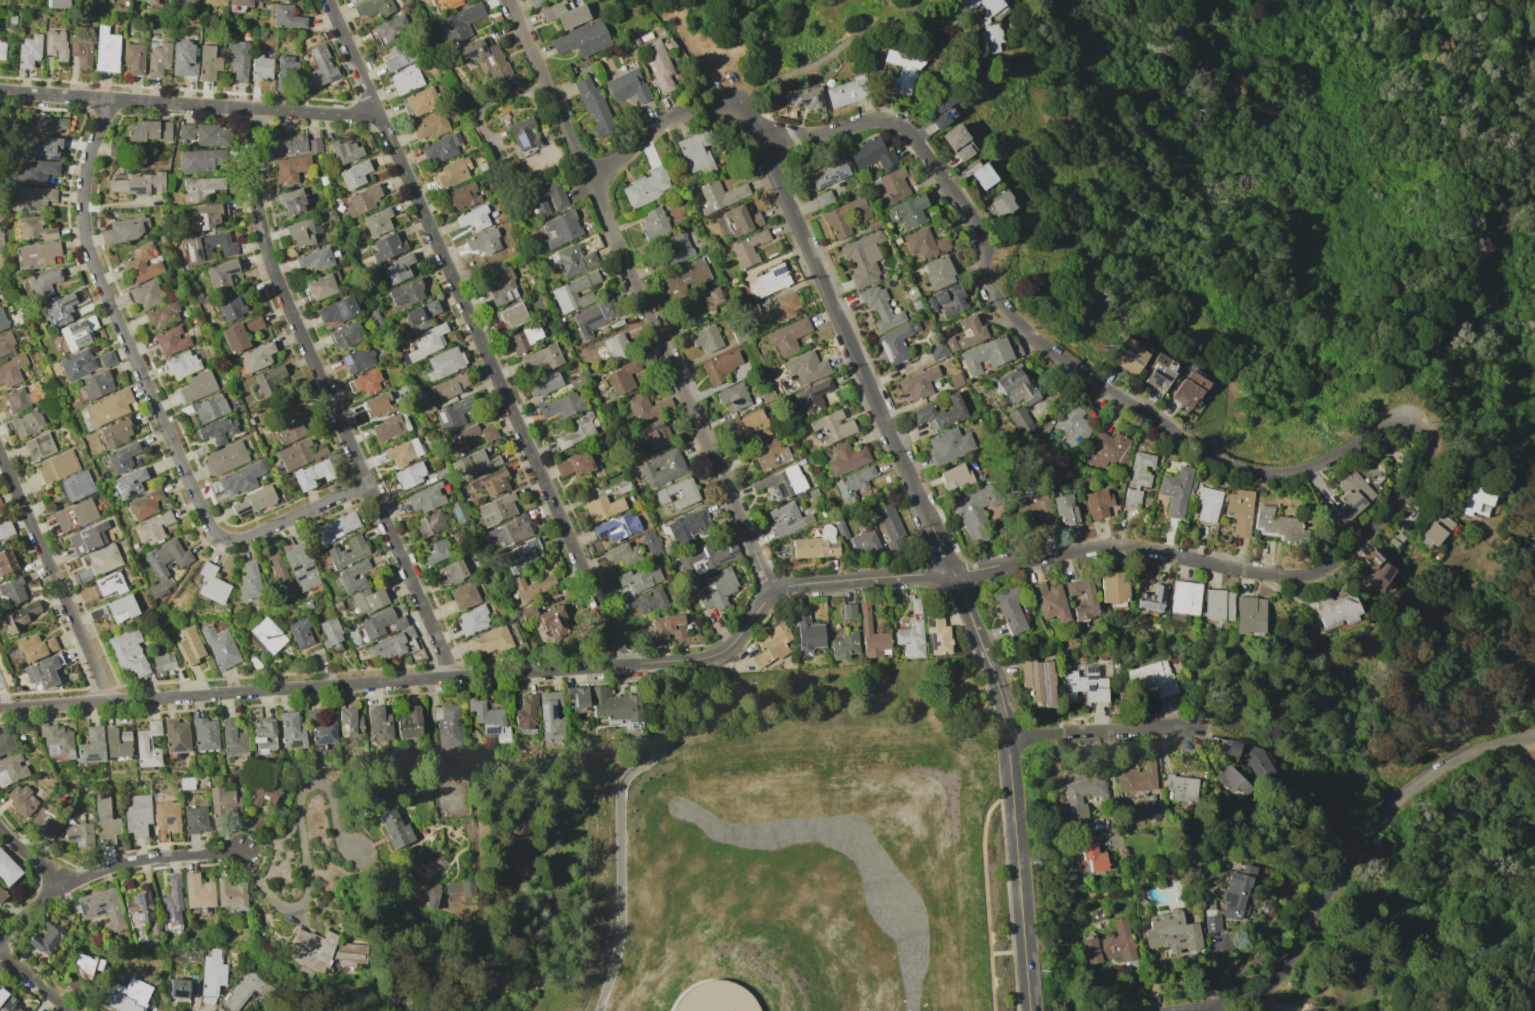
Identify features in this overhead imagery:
building: (150, 2)
building: (229, 2)
building: (441, 2)
building: (183, 3)
building: (59, 4)
building: (982, 7)
building: (373, 8)
building: (566, 14)
building: (287, 17)
building: (459, 23)
building: (392, 28)
building: (990, 38)
building: (583, 39)
building: (56, 45)
building: (2, 48)
building: (28, 50)
building: (106, 50)
road: (834, 50)
building: (81, 51)
road: (697, 52)
road: (1460, 54)
road: (353, 57)
building: (396, 57)
building: (133, 58)
building: (158, 59)
building: (183, 59)
building: (486, 59)
building: (238, 61)
building: (208, 63)
building: (321, 65)
building: (658, 65)
building: (261, 67)
building: (900, 73)
building: (405, 79)
building: (627, 86)
building: (846, 92)
building: (803, 98)
building: (420, 101)
road: (185, 104)
building: (594, 106)
building: (941, 110)
building: (49, 123)
building: (429, 125)
road: (655, 127)
building: (148, 131)
building: (203, 134)
building: (523, 136)
building: (958, 142)
building: (294, 145)
building: (44, 147)
building: (441, 148)
building: (346, 151)
building: (695, 152)
building: (871, 154)
building: (200, 160)
building: (290, 169)
building: (36, 171)
building: (453, 172)
building: (829, 172)
building: (354, 175)
building: (983, 176)
building: (137, 184)
building: (893, 185)
building: (202, 187)
building: (646, 187)
building: (720, 195)
building: (463, 196)
building: (33, 198)
building: (823, 198)
building: (549, 199)
building: (362, 200)
building: (292, 202)
building: (1001, 204)
building: (908, 211)
building: (209, 214)
building: (846, 217)
building: (474, 218)
building: (738, 220)
building: (377, 221)
building: (654, 223)
building: (34, 228)
building: (561, 229)
building: (125, 230)
building: (304, 233)
building: (484, 242)
building: (924, 243)
building: (208, 246)
building: (386, 247)
building: (675, 248)
building: (747, 248)
building: (37, 254)
building: (314, 259)
building: (862, 259)
building: (572, 260)
building: (141, 264)
building: (397, 269)
building: (938, 272)
building: (221, 273)
building: (684, 278)
building: (767, 282)
building: (42, 284)
building: (320, 287)
building: (502, 287)
building: (574, 292)
building: (147, 294)
building: (406, 294)
road: (644, 296)
building: (701, 305)
building: (785, 305)
building: (228, 307)
building: (880, 308)
building: (60, 309)
building: (336, 311)
building: (162, 315)
building: (421, 315)
building: (512, 315)
building: (593, 317)
building: (2, 320)
building: (90, 322)
building: (240, 333)
building: (966, 333)
building: (75, 334)
building: (345, 335)
building: (787, 337)
road: (848, 337)
building: (523, 338)
building: (706, 338)
building: (171, 340)
building: (427, 342)
building: (894, 344)
building: (616, 345)
building: (6, 346)
road: (1051, 348)
building: (985, 355)
building: (257, 356)
building: (1128, 356)
building: (107, 358)
building: (357, 359)
building: (540, 359)
building: (444, 363)
building: (181, 364)
building: (77, 365)
building: (720, 367)
building: (806, 367)
building: (11, 371)
building: (1160, 373)
building: (622, 378)
building: (268, 379)
building: (365, 383)
building: (545, 383)
building: (917, 383)
building: (95, 385)
building: (197, 386)
building: (451, 386)
building: (1016, 386)
road: (500, 388)
building: (1188, 390)
building: (733, 397)
building: (812, 397)
road: (331, 398)
road: (153, 399)
building: (15, 400)
building: (377, 405)
building: (562, 405)
building: (107, 407)
building: (646, 407)
building: (209, 408)
building: (453, 413)
building: (940, 413)
building: (1019, 420)
building: (27, 423)
building: (748, 425)
building: (1072, 426)
building: (832, 427)
building: (288, 429)
building: (388, 429)
building: (218, 430)
building: (577, 431)
building: (488, 432)
building: (116, 433)
building: (655, 434)
building: (462, 439)
building: (39, 446)
building: (948, 446)
building: (1107, 449)
building: (403, 452)
building: (299, 454)
building: (770, 455)
building: (846, 457)
building: (121, 458)
building: (225, 458)
building: (473, 463)
building: (574, 464)
building: (57, 466)
building: (662, 467)
building: (313, 474)
building: (410, 475)
building: (955, 476)
building: (242, 478)
building: (1137, 478)
building: (493, 482)
building: (782, 482)
building: (129, 483)
building: (853, 484)
building: (76, 486)
building: (1175, 491)
building: (678, 493)
building: (425, 498)
building: (1350, 498)
building: (1477, 501)
building: (252, 502)
building: (1097, 503)
building: (1205, 503)
building: (0, 504)
building: (144, 504)
road: (1390, 505)
building: (603, 508)
building: (496, 509)
building: (1035, 509)
building: (1065, 509)
building: (1237, 511)
building: (975, 512)
building: (75, 515)
building: (787, 519)
building: (431, 523)
building: (889, 525)
building: (1277, 525)
building: (688, 526)
building: (335, 527)
building: (617, 527)
building: (151, 528)
building: (5, 530)
building: (508, 532)
building: (1431, 535)
building: (88, 538)
building: (1395, 539)
building: (650, 543)
building: (865, 544)
building: (816, 545)
road: (1131, 548)
building: (435, 551)
building: (348, 552)
building: (622, 554)
building: (522, 555)
building: (167, 557)
building: (705, 558)
building: (102, 559)
building: (6, 562)
road: (199, 567)
building: (301, 567)
building: (1375, 571)
building: (450, 572)
road: (55, 573)
building: (278, 575)
building: (353, 576)
building: (640, 578)
road: (860, 579)
building: (249, 581)
building: (109, 584)
building: (211, 584)
building: (532, 587)
building: (1113, 587)
building: (161, 588)
building: (716, 589)
building: (12, 591)
building: (464, 595)
building: (1184, 597)
building: (1151, 599)
building: (368, 600)
building: (1089, 600)
building: (1050, 601)
building: (648, 602)
building: (1217, 605)
building: (121, 608)
building: (1010, 609)
building: (1335, 609)
building: (848, 611)
road: (969, 614)
building: (19, 616)
building: (1249, 616)
building: (472, 620)
building: (547, 620)
building: (379, 623)
building: (668, 627)
building: (330, 631)
building: (300, 633)
building: (267, 635)
building: (808, 635)
building: (871, 635)
building: (938, 635)
building: (910, 639)
building: (490, 641)
building: (189, 645)
building: (392, 645)
building: (770, 645)
building: (34, 646)
building: (844, 646)
building: (220, 647)
building: (128, 652)
road: (713, 658)
building: (163, 662)
building: (42, 672)
building: (1153, 677)
building: (1038, 682)
road: (368, 683)
building: (1085, 683)
building: (578, 696)
road: (961, 698)
road: (55, 705)
building: (614, 705)
building: (526, 712)
building: (550, 716)
building: (489, 718)
building: (349, 722)
building: (410, 723)
building: (378, 724)
building: (448, 725)
building: (321, 726)
building: (291, 731)
road: (1101, 731)
building: (205, 734)
building: (264, 735)
building: (176, 736)
building: (233, 738)
building: (57, 741)
building: (6, 742)
building: (117, 743)
building: (147, 745)
building: (91, 746)
building: (1226, 747)
building: (1261, 766)
building: (11, 768)
building: (1137, 777)
building: (1232, 782)
building: (1181, 787)
building: (263, 794)
building: (1081, 799)
building: (22, 800)
building: (223, 805)
building: (1152, 810)
building: (137, 815)
building: (166, 819)
building: (195, 819)
building: (46, 822)
building: (105, 822)
building: (395, 829)
road: (1017, 830)
building: (79, 834)
road: (303, 842)
road: (28, 853)
building: (1093, 857)
road: (1350, 857)
road: (101, 868)
building: (7, 870)
building: (425, 884)
road: (1406, 886)
building: (460, 887)
building: (197, 891)
building: (1235, 892)
building: (231, 894)
building: (2, 895)
building: (172, 904)
building: (101, 907)
building: (139, 908)
building: (1212, 923)
building: (1171, 932)
building: (45, 939)
building: (1111, 945)
building: (312, 949)
building: (348, 953)
building: (87, 966)
building: (212, 976)
road: (36, 982)
building: (179, 988)
building: (246, 989)
building: (2, 995)
building: (127, 996)
building: (716, 997)
storage tank: (716, 997)
building: (11, 1006)
building: (1308, 1010)

